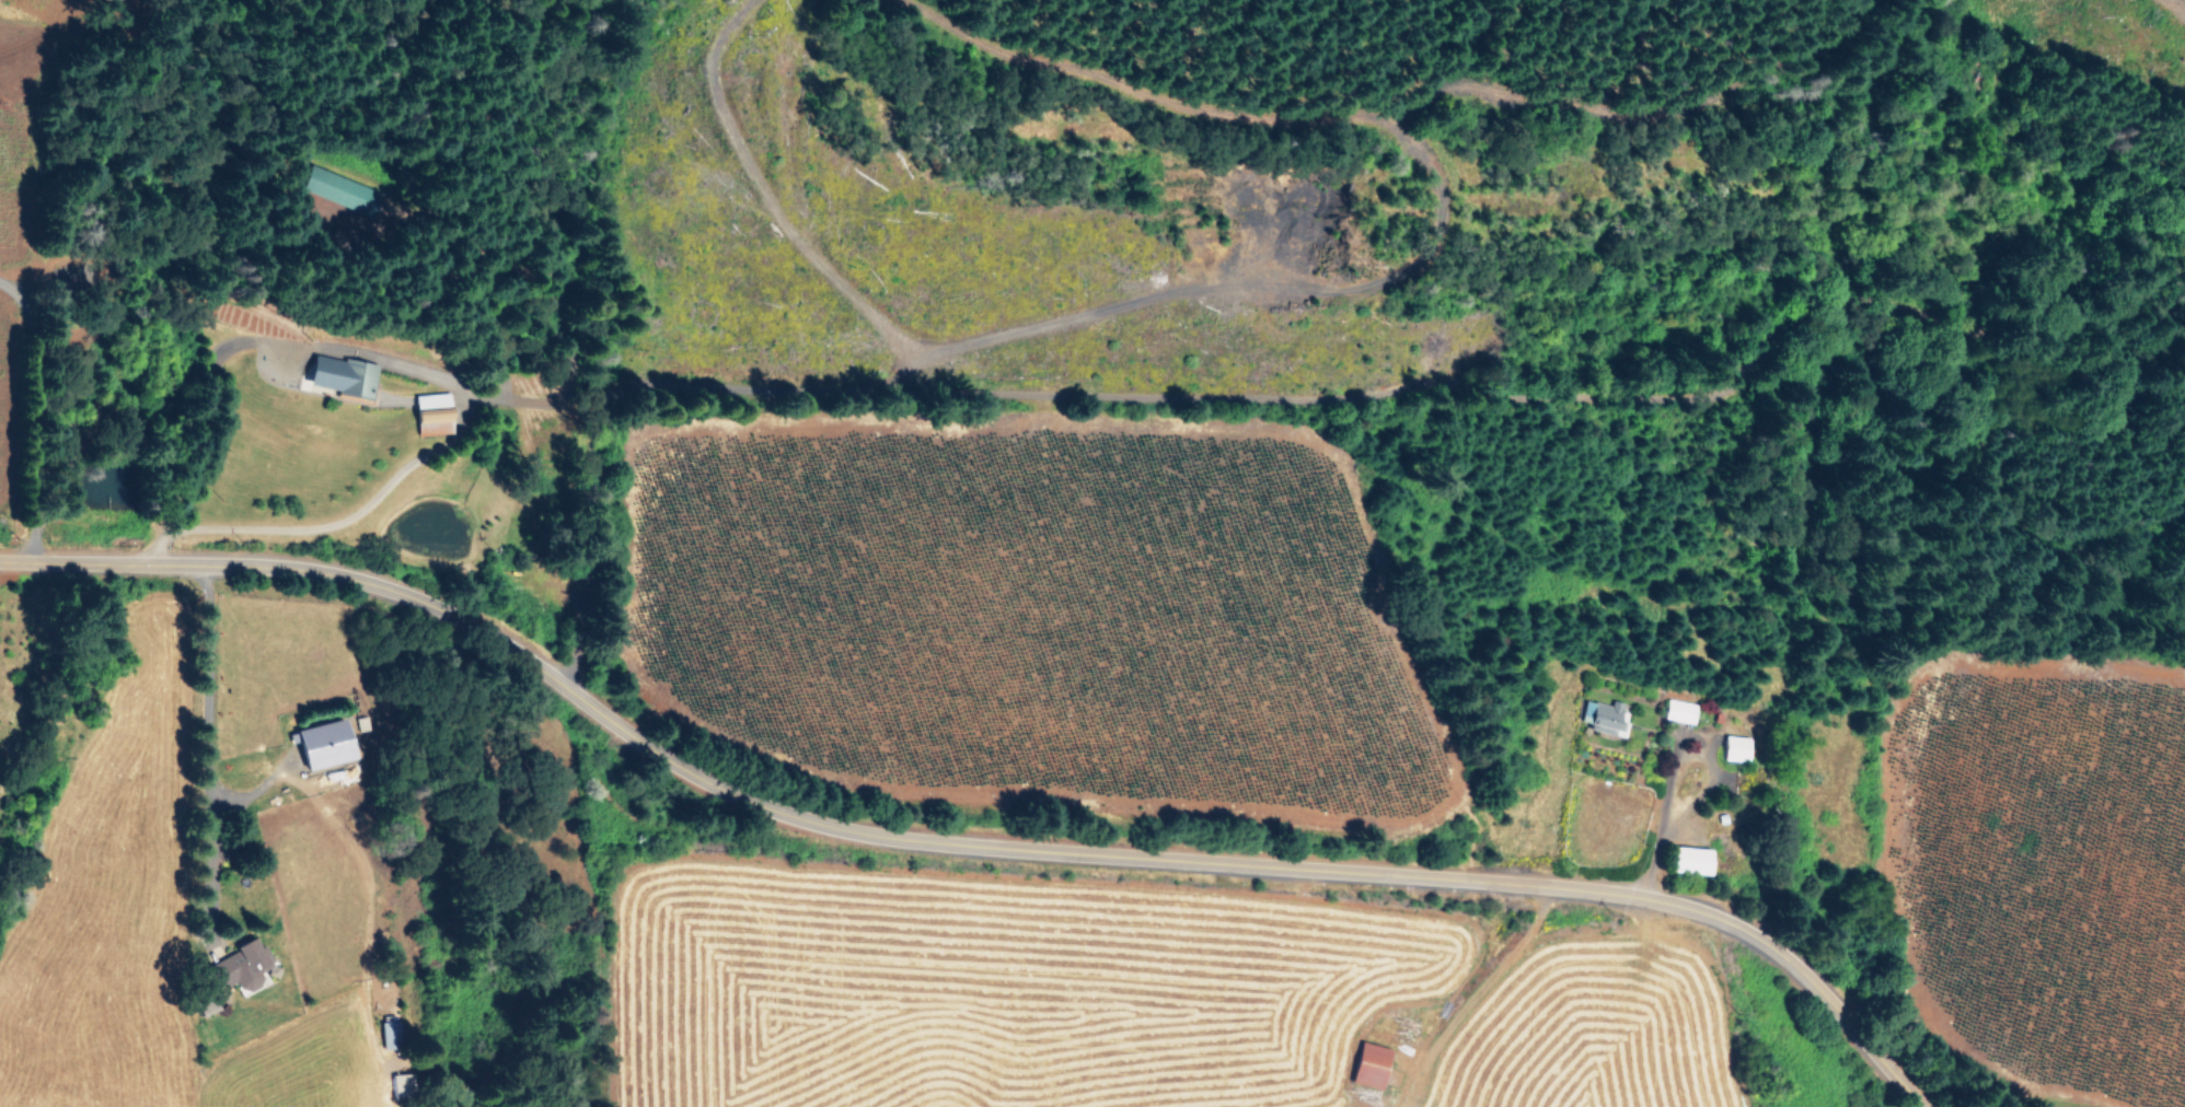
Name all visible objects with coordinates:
building: (337, 374)
road: (1256, 395)
building: (430, 412)
building: (1604, 716)
building: (319, 742)
building: (1733, 747)
road: (203, 756)
road: (1665, 767)
road: (964, 848)
building: (1686, 859)
building: (242, 968)
building: (389, 1030)
building: (1367, 1063)

